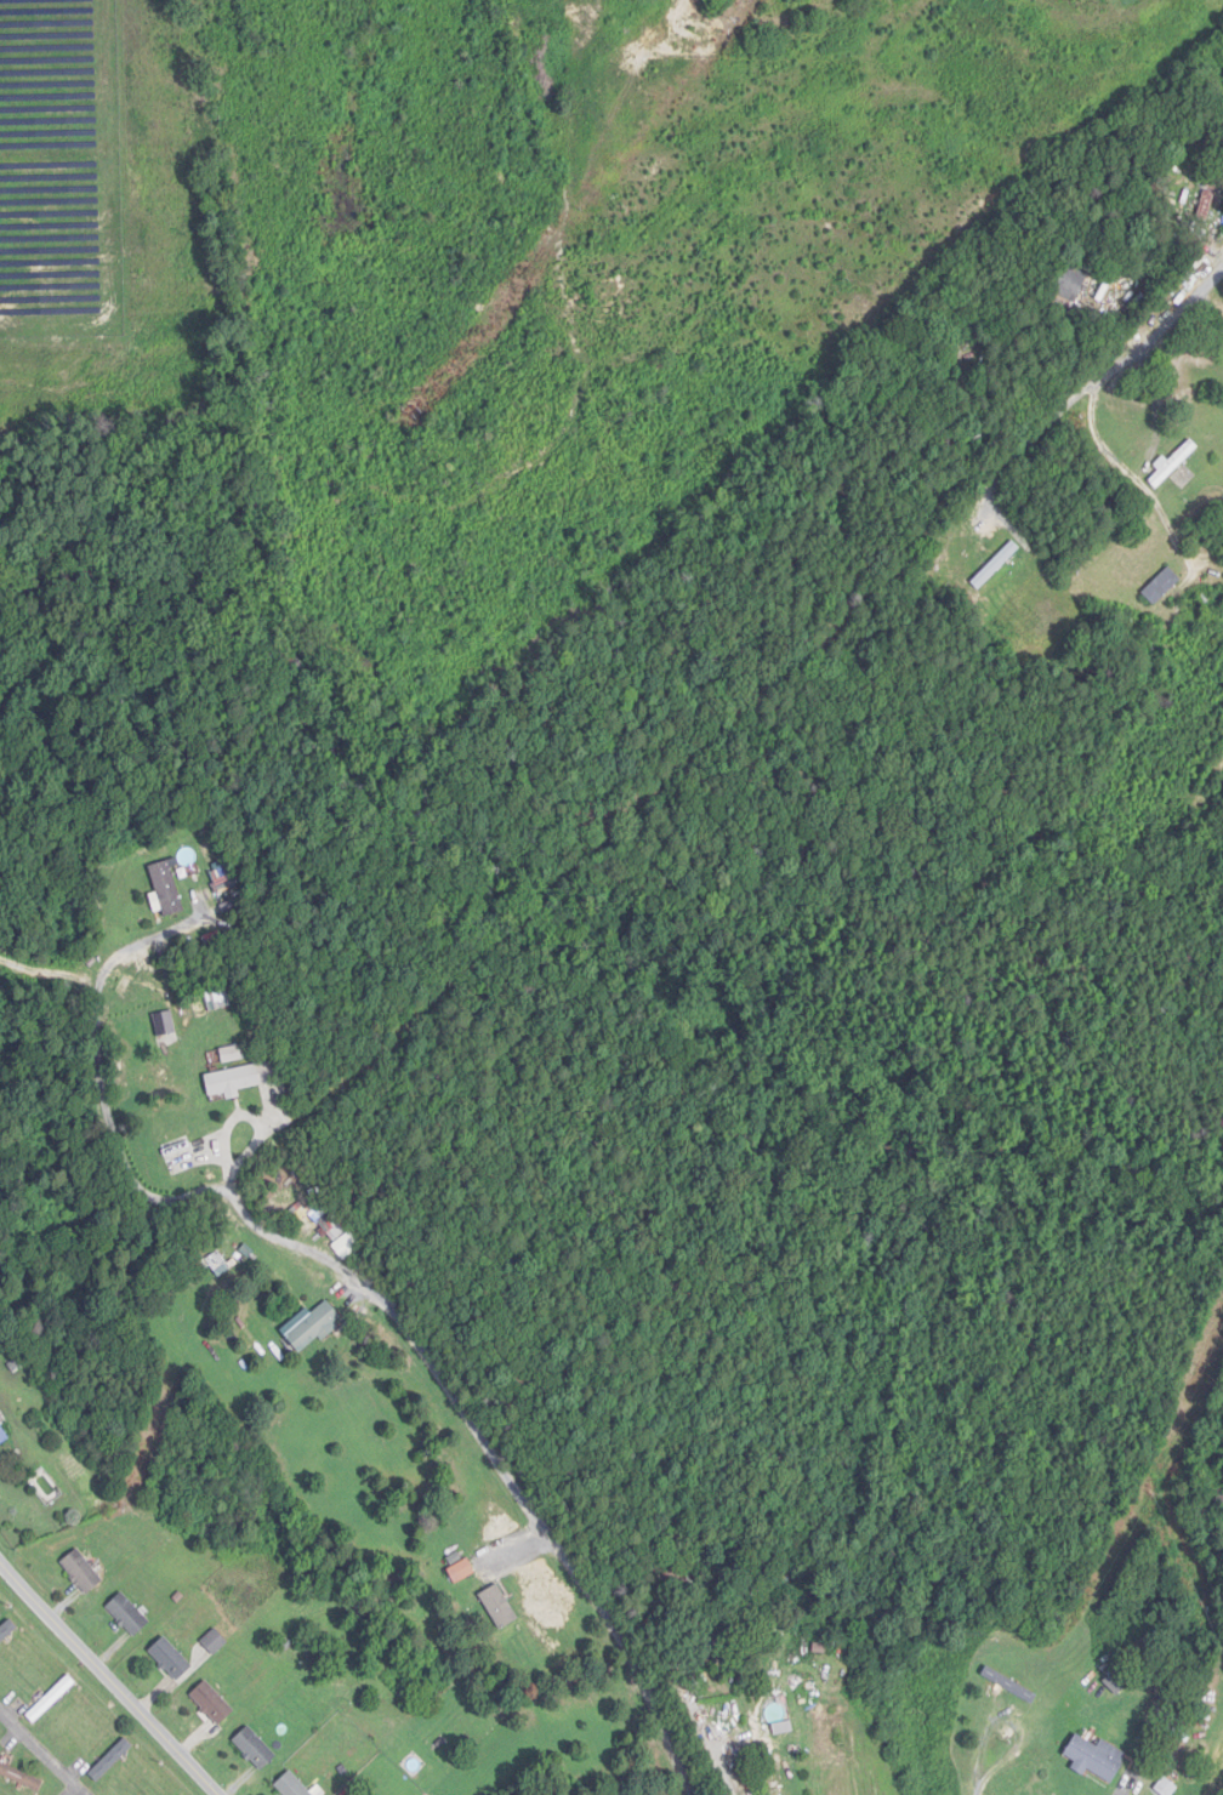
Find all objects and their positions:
building: (1066, 281)
road: (1028, 433)
road: (1143, 467)
building: (1174, 467)
building: (996, 565)
building: (1162, 586)
building: (166, 888)
building: (233, 1054)
building: (233, 1082)
building: (342, 1242)
road: (370, 1292)
building: (314, 1327)
building: (1, 1438)
building: (1212, 1508)
building: (463, 1571)
building: (81, 1572)
building: (499, 1606)
building: (129, 1614)
building: (6, 1630)
building: (707, 1646)
building: (171, 1658)
road: (109, 1677)
building: (1120, 1679)
building: (51, 1698)
building: (212, 1702)
building: (255, 1746)
road: (712, 1746)
building: (1096, 1757)
building: (112, 1759)
road: (36, 1760)
building: (19, 1777)
building: (292, 1785)

